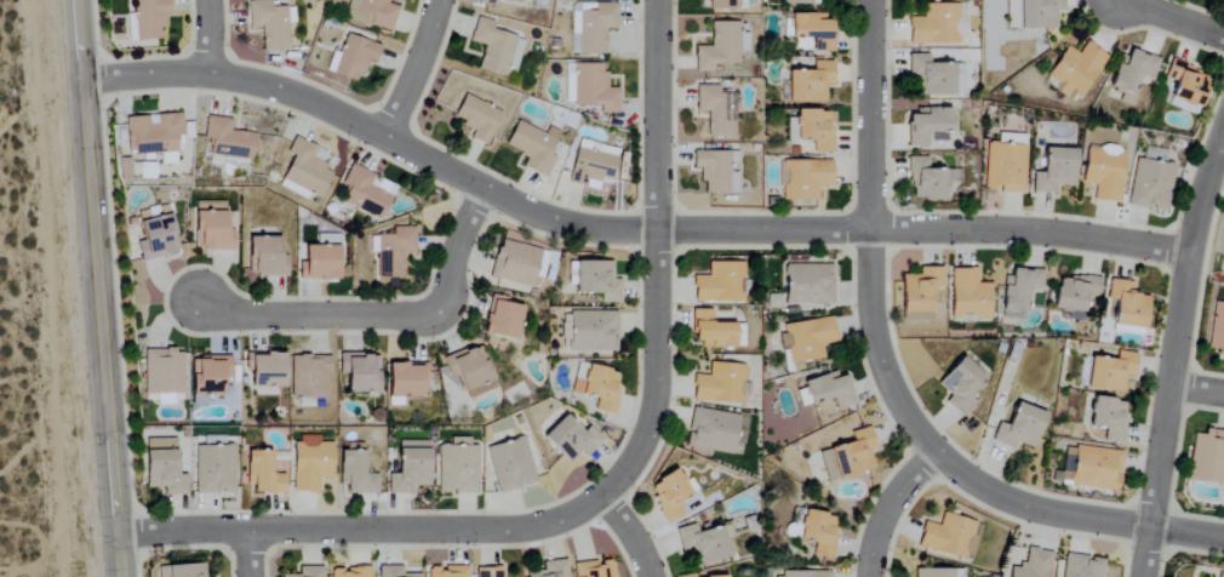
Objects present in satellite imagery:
building: (516, 0)
building: (1223, 0)
building: (487, 1)
building: (794, 1)
building: (722, 5)
building: (372, 12)
building: (1033, 13)
building: (149, 18)
road: (1171, 18)
building: (269, 24)
building: (934, 24)
building: (590, 27)
building: (813, 29)
road: (205, 38)
building: (492, 47)
building: (719, 47)
road: (413, 69)
building: (1076, 70)
building: (1133, 74)
building: (934, 78)
building: (810, 84)
building: (589, 87)
building: (716, 110)
building: (476, 119)
building: (928, 126)
building: (813, 128)
building: (153, 133)
building: (227, 139)
building: (532, 147)
road: (1220, 154)
building: (1005, 164)
building: (593, 165)
building: (305, 170)
building: (717, 171)
building: (1054, 171)
building: (1104, 172)
building: (803, 179)
building: (928, 181)
building: (1150, 184)
building: (366, 192)
building: (210, 227)
road: (618, 229)
building: (155, 238)
building: (1223, 250)
building: (394, 252)
road: (653, 255)
building: (264, 257)
building: (319, 263)
building: (514, 263)
building: (597, 280)
building: (720, 284)
building: (808, 285)
road: (97, 288)
building: (1019, 291)
building: (920, 292)
building: (970, 295)
building: (1074, 295)
building: (1127, 304)
road: (385, 316)
building: (502, 319)
road: (1177, 329)
building: (565, 331)
building: (593, 331)
building: (711, 331)
building: (1217, 331)
building: (806, 339)
building: (267, 370)
building: (469, 371)
building: (162, 372)
building: (359, 372)
building: (1111, 372)
building: (208, 375)
building: (309, 377)
building: (405, 379)
building: (720, 384)
road: (888, 385)
building: (961, 385)
building: (599, 388)
building: (830, 390)
road: (1196, 390)
building: (1109, 418)
building: (1019, 428)
building: (711, 430)
building: (571, 440)
building: (848, 456)
building: (1207, 458)
building: (310, 463)
building: (510, 465)
building: (162, 467)
building: (278, 467)
building: (408, 468)
building: (457, 468)
building: (1097, 468)
building: (213, 469)
building: (261, 475)
building: (355, 475)
building: (670, 495)
road: (888, 507)
road: (361, 527)
road: (631, 531)
building: (818, 533)
building: (948, 537)
building: (704, 543)
road: (1144, 552)
road: (247, 553)
building: (1033, 565)
building: (1082, 566)
building: (550, 570)
building: (595, 570)
building: (181, 571)
building: (447, 571)
building: (308, 572)
building: (349, 572)
building: (488, 572)
building: (937, 573)
building: (803, 575)

